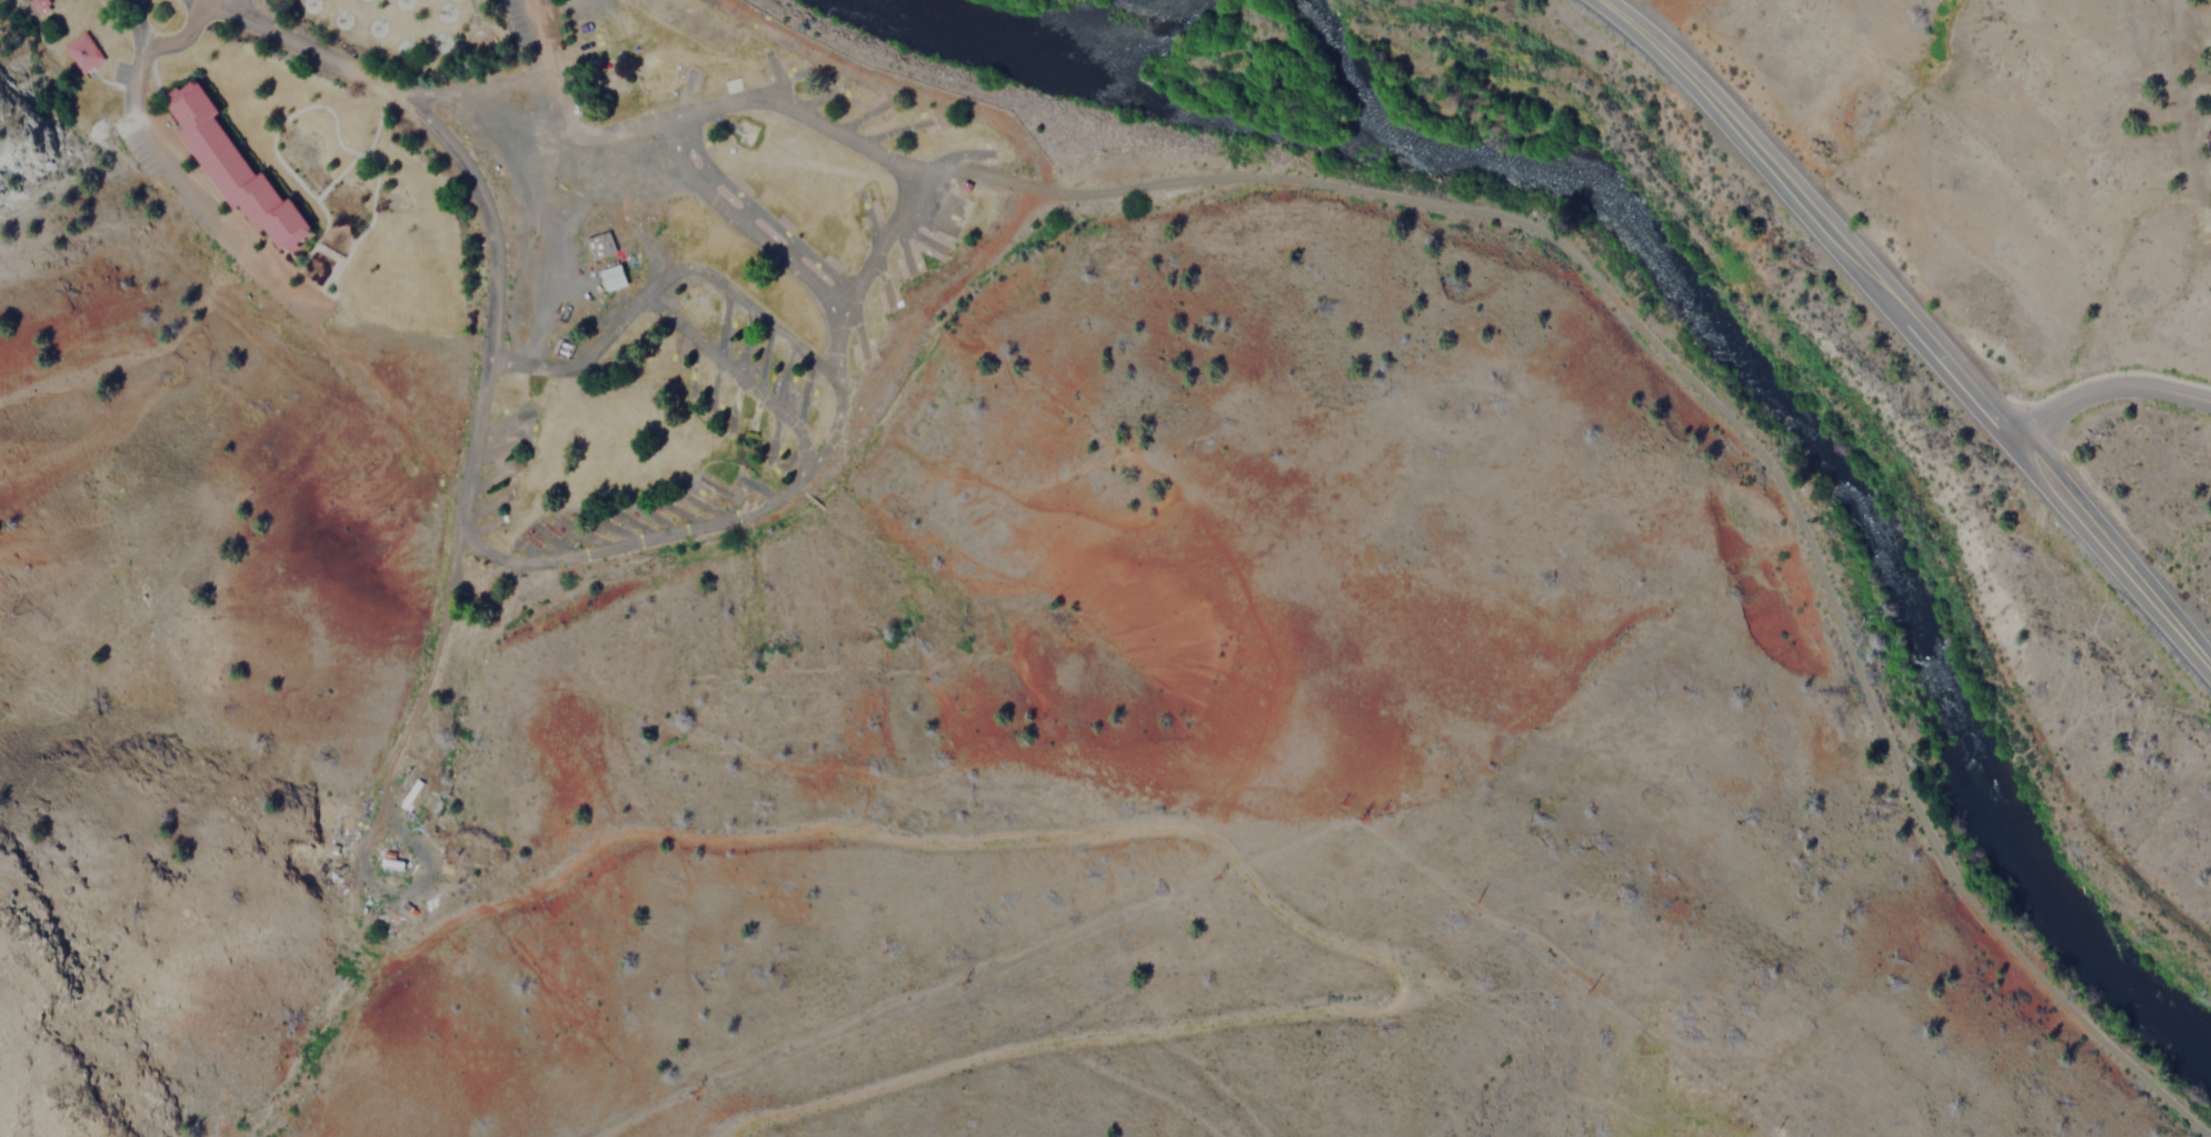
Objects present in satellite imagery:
road: (206, 3)
road: (220, 3)
building: (38, 7)
road: (471, 12)
park: (688, 22)
parking lot: (539, 27)
road: (180, 37)
river: (1022, 43)
road: (298, 44)
building: (83, 52)
road: (498, 84)
road: (700, 110)
road: (275, 128)
building: (2209, 138)
building: (977, 153)
building: (232, 169)
road: (335, 177)
road: (177, 182)
building: (730, 191)
road: (218, 195)
road: (365, 226)
road: (743, 227)
building: (598, 246)
building: (611, 278)
road: (660, 279)
road: (1912, 323)
road: (735, 378)
road: (2108, 389)
road: (1716, 410)
river: (1819, 459)
road: (561, 558)

